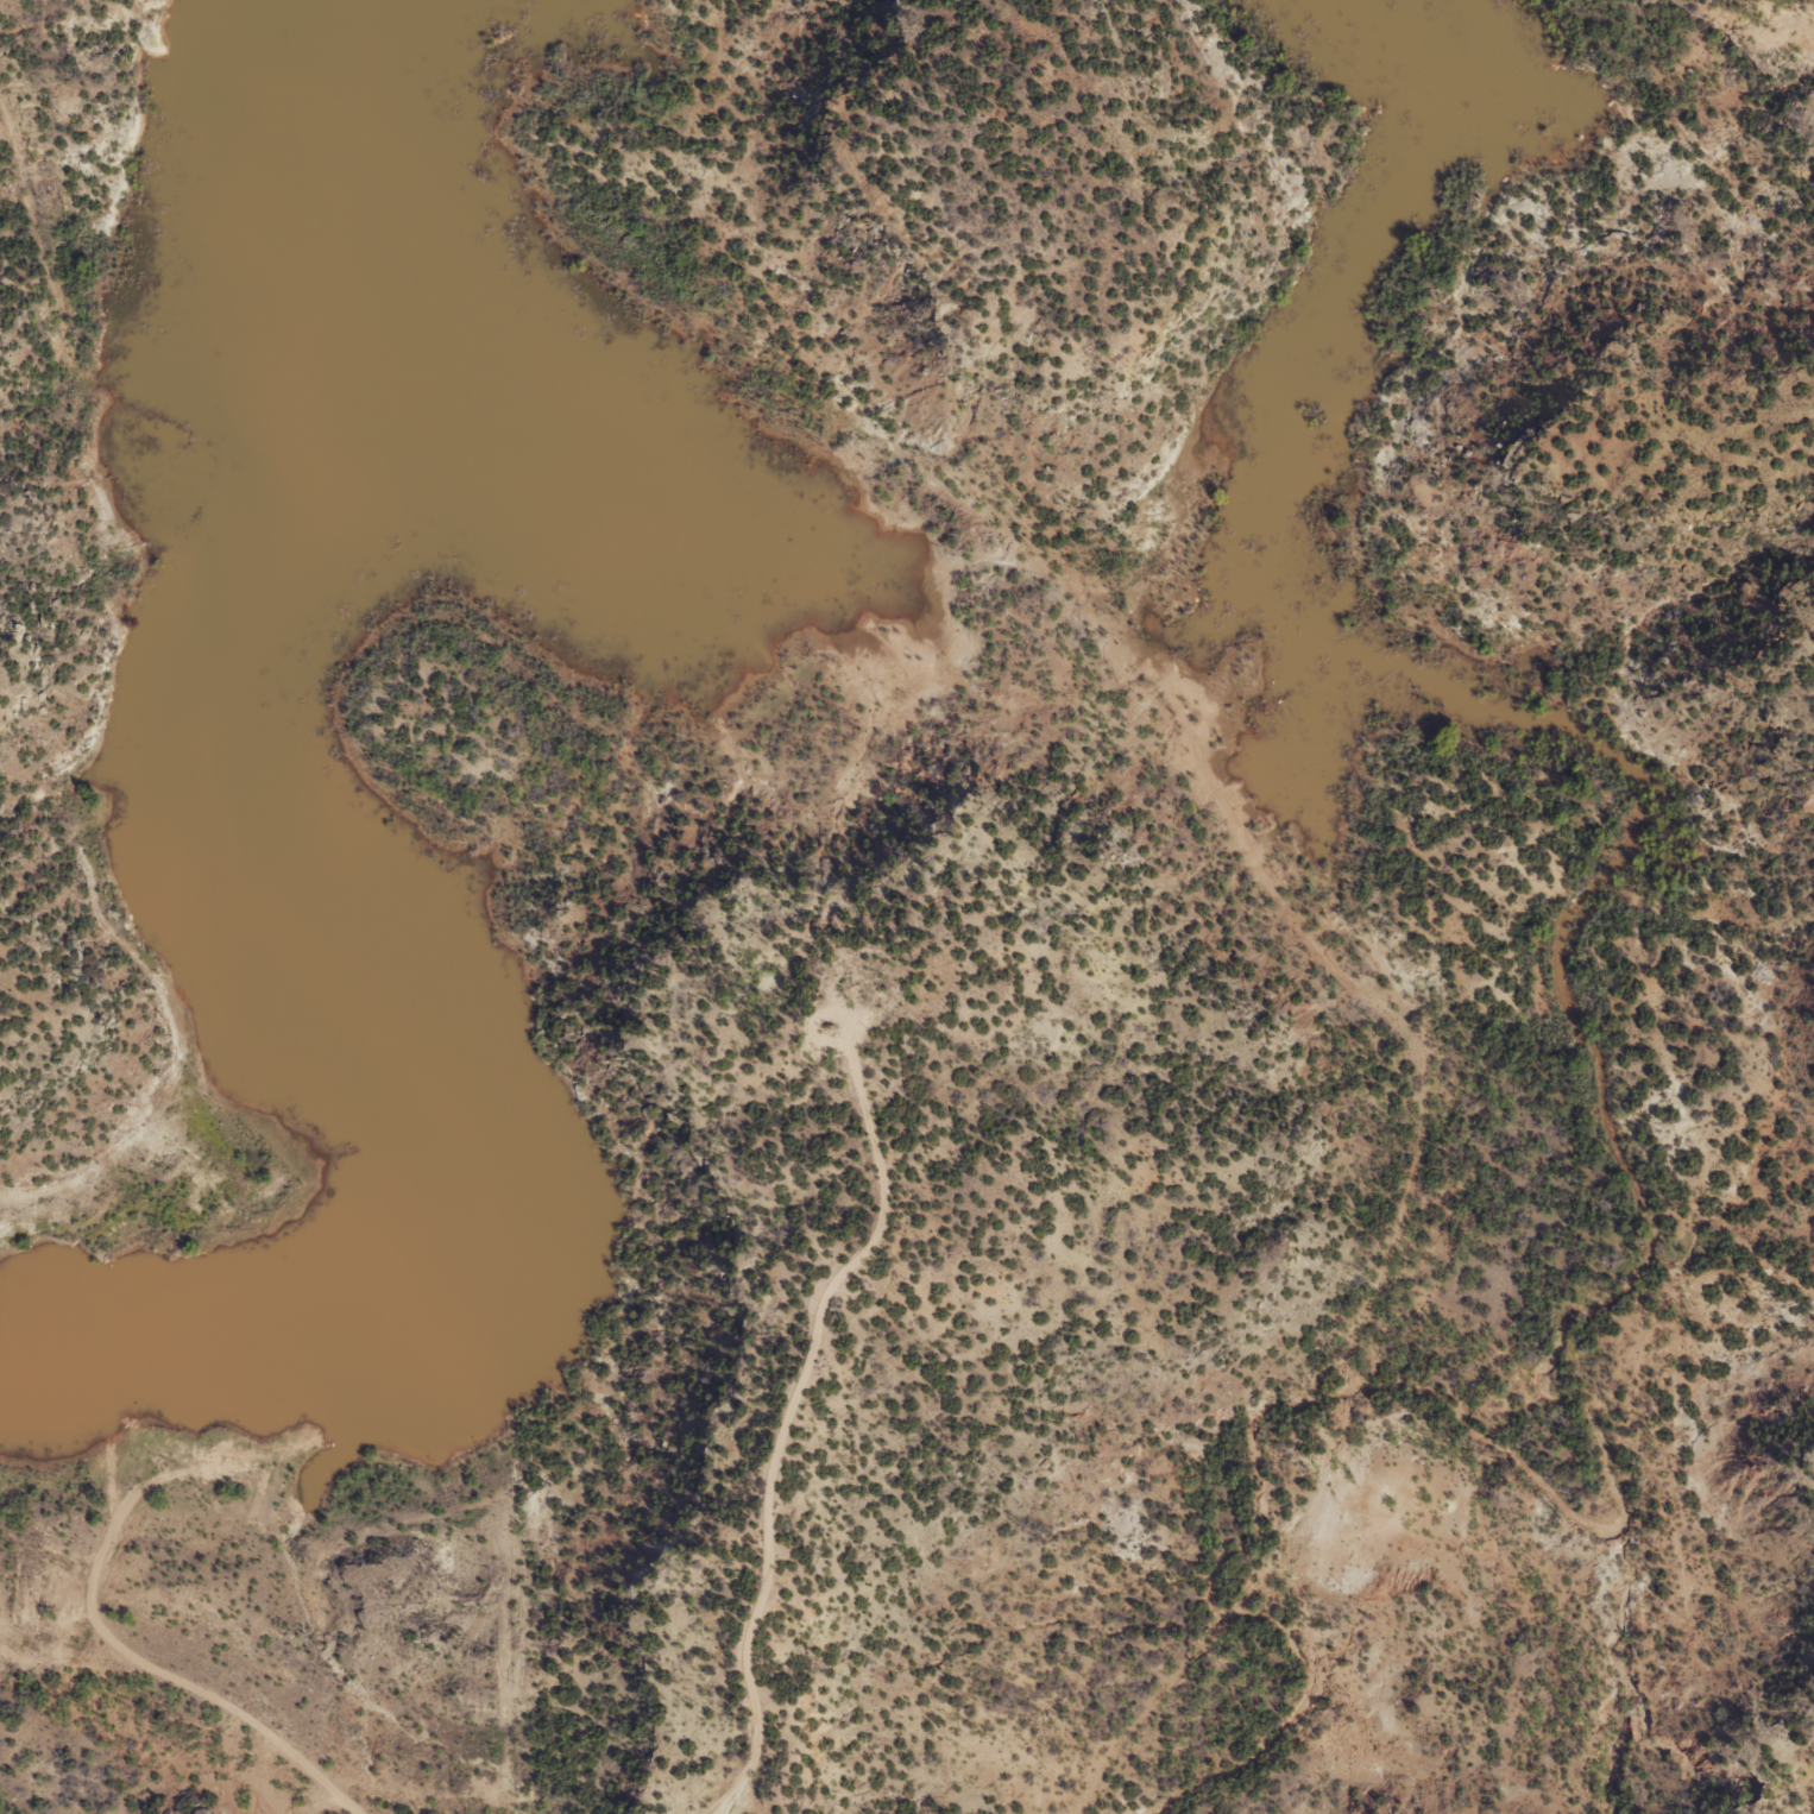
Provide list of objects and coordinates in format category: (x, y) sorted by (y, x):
road: (1350, 1324)
road: (800, 1457)
road: (78, 1717)

